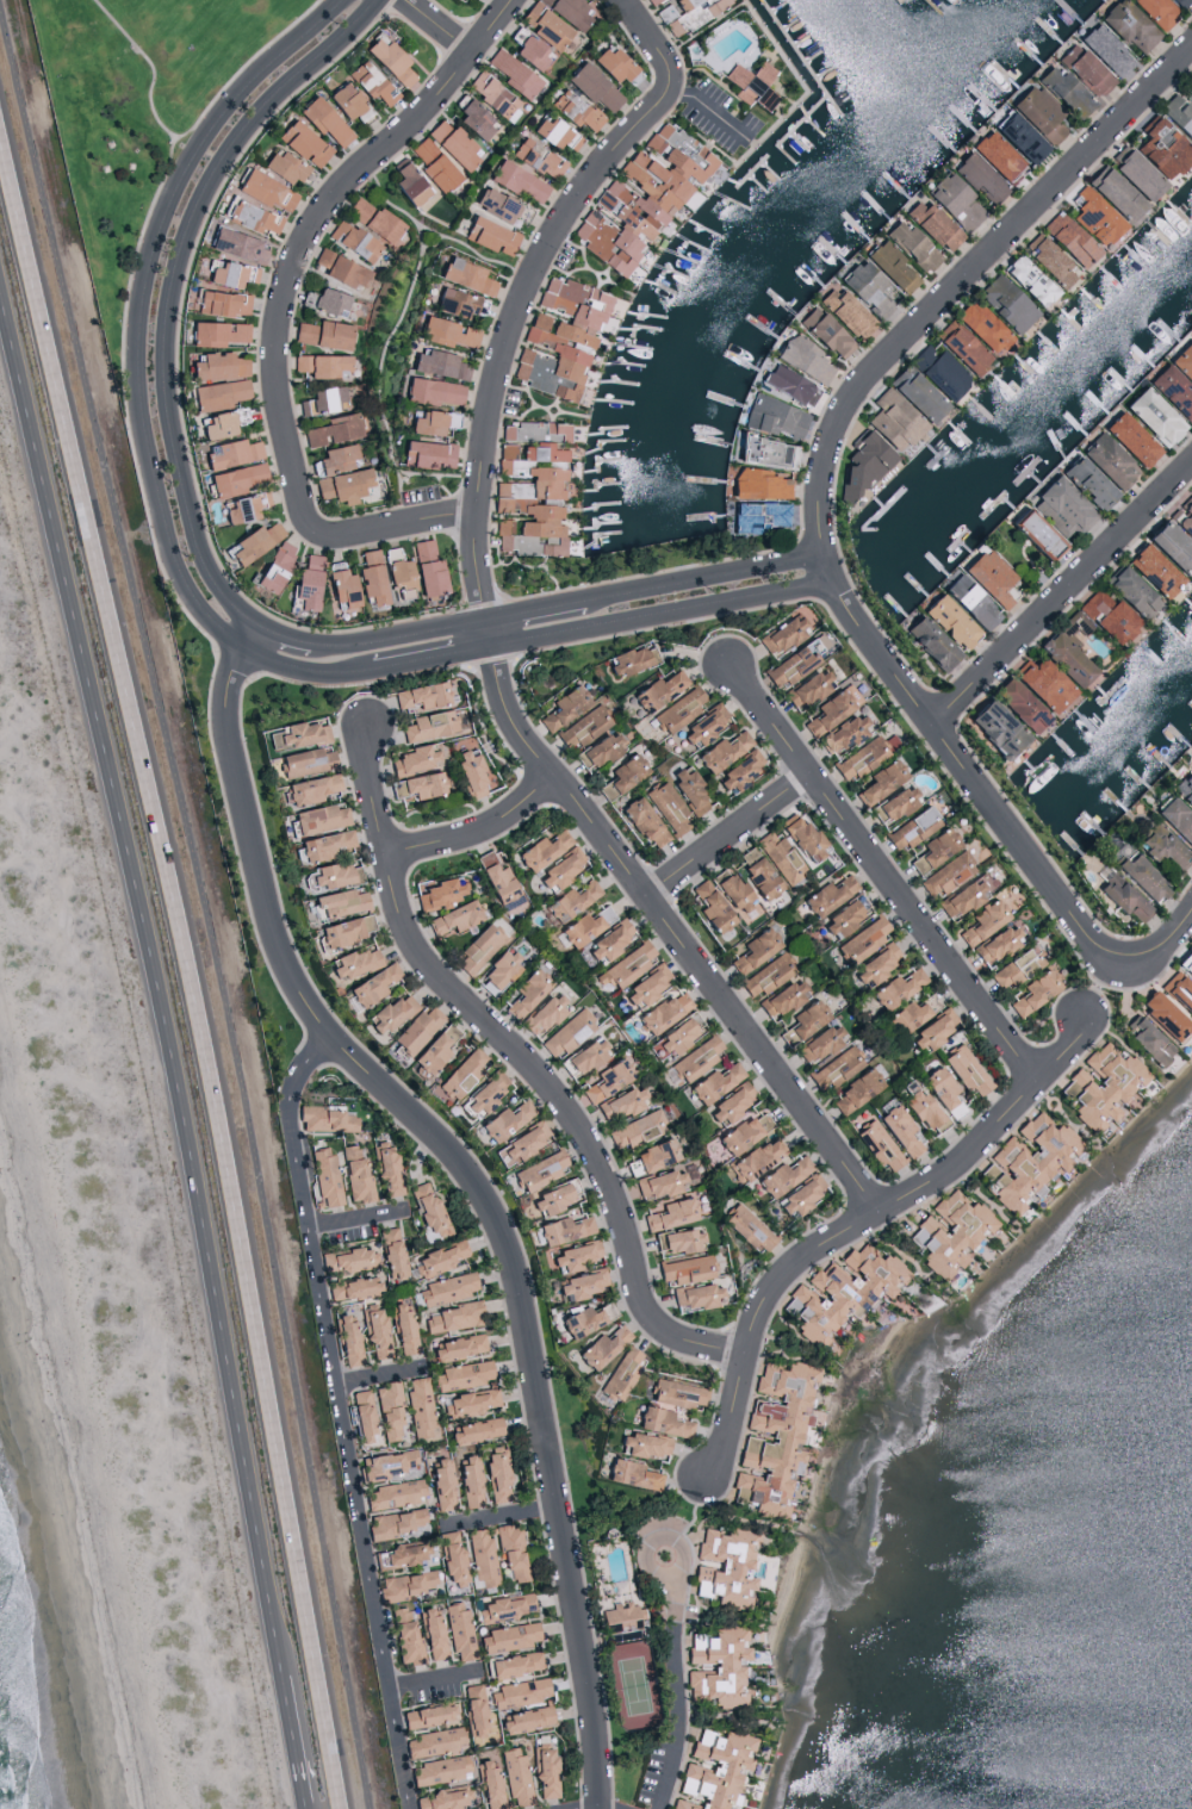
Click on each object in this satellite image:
building: (650, 1)
building: (1179, 2)
building: (566, 11)
building: (1156, 11)
building: (685, 13)
building: (544, 24)
road: (439, 25)
building: (1126, 25)
building: (1104, 49)
building: (530, 51)
building: (389, 60)
building: (614, 64)
building: (1082, 68)
building: (510, 72)
road: (151, 77)
building: (370, 82)
building: (750, 82)
building: (1188, 83)
building: (591, 85)
building: (1063, 89)
building: (492, 97)
building: (346, 101)
park: (136, 108)
building: (573, 110)
road: (709, 111)
building: (1037, 112)
building: (1178, 114)
building: (473, 117)
building: (322, 120)
building: (554, 133)
building: (1017, 137)
building: (302, 142)
building: (452, 142)
building: (1161, 147)
building: (994, 155)
building: (536, 157)
building: (433, 164)
building: (280, 166)
building: (1134, 170)
building: (977, 178)
building: (517, 180)
building: (406, 184)
building: (262, 189)
building: (1113, 192)
building: (640, 194)
building: (952, 200)
building: (250, 216)
building: (1093, 216)
building: (372, 219)
building: (930, 223)
building: (489, 235)
building: (1067, 238)
building: (352, 241)
building: (235, 244)
building: (911, 244)
building: (1048, 260)
building: (889, 265)
building: (339, 268)
building: (228, 273)
building: (465, 275)
building: (1025, 279)
road: (533, 284)
building: (862, 284)
building: (222, 301)
building: (329, 301)
building: (457, 301)
building: (1004, 303)
road: (284, 307)
building: (843, 311)
building: (980, 325)
building: (446, 331)
building: (824, 331)
building: (216, 332)
building: (322, 334)
building: (558, 337)
building: (960, 346)
building: (802, 360)
building: (1182, 361)
building: (439, 363)
building: (216, 365)
building: (319, 365)
building: (938, 369)
building: (787, 384)
building: (432, 391)
building: (1172, 391)
building: (218, 393)
building: (914, 393)
building: (322, 398)
building: (1151, 415)
building: (771, 416)
building: (890, 419)
building: (430, 421)
building: (216, 423)
building: (330, 430)
building: (1129, 439)
building: (763, 450)
building: (231, 452)
building: (427, 453)
building: (331, 459)
building: (1106, 460)
building: (861, 465)
building: (236, 478)
building: (1086, 481)
building: (757, 483)
building: (341, 484)
building: (529, 489)
road: (821, 489)
building: (1190, 489)
building: (242, 505)
building: (1060, 506)
building: (756, 515)
building: (1185, 518)
building: (1035, 533)
building: (254, 540)
building: (1169, 547)
building: (273, 565)
building: (426, 568)
building: (1151, 570)
road: (206, 573)
building: (397, 574)
building: (368, 576)
building: (988, 576)
building: (305, 582)
building: (340, 588)
building: (1129, 591)
road: (1063, 592)
road: (192, 596)
building: (968, 601)
building: (1106, 615)
building: (948, 621)
building: (780, 633)
building: (929, 641)
building: (1067, 649)
building: (631, 659)
building: (791, 664)
building: (1041, 683)
building: (806, 688)
building: (658, 689)
building: (420, 695)
building: (1017, 704)
building: (561, 707)
building: (831, 708)
building: (678, 709)
building: (428, 725)
building: (703, 725)
building: (582, 727)
building: (994, 728)
building: (303, 733)
building: (842, 733)
building: (597, 748)
building: (721, 750)
building: (863, 756)
building: (411, 759)
building: (305, 760)
building: (1190, 764)
building: (739, 769)
building: (468, 772)
building: (621, 775)
building: (879, 782)
building: (417, 784)
building: (309, 788)
building: (1184, 788)
building: (688, 790)
building: (893, 803)
building: (666, 807)
building: (317, 818)
building: (1174, 820)
building: (641, 821)
building: (909, 828)
road: (479, 832)
building: (800, 835)
road: (733, 838)
building: (324, 845)
building: (1159, 845)
building: (933, 848)
building: (541, 850)
building: (780, 858)
building: (560, 868)
building: (756, 872)
building: (946, 874)
building: (333, 875)
road: (886, 877)
building: (1140, 877)
building: (501, 884)
building: (437, 893)
building: (964, 894)
building: (734, 895)
building: (827, 895)
building: (1120, 896)
building: (570, 900)
building: (337, 902)
road: (204, 904)
building: (709, 907)
building: (452, 918)
building: (842, 918)
building: (982, 921)
road: (668, 924)
building: (584, 925)
building: (343, 930)
building: (862, 940)
building: (608, 941)
road: (1168, 941)
building: (995, 945)
building: (476, 949)
building: (755, 949)
building: (1185, 962)
building: (352, 963)
road: (187, 964)
building: (625, 966)
building: (874, 966)
building: (1016, 966)
building: (497, 970)
building: (766, 975)
building: (371, 984)
building: (646, 984)
building: (896, 988)
building: (1033, 990)
building: (1178, 990)
building: (524, 991)
road: (150, 993)
building: (781, 997)
building: (663, 1011)
building: (389, 1012)
building: (541, 1014)
building: (909, 1014)
building: (1162, 1014)
building: (802, 1020)
building: (415, 1028)
building: (566, 1033)
building: (673, 1036)
building: (1147, 1040)
building: (819, 1043)
building: (432, 1050)
building: (584, 1055)
building: (696, 1058)
road: (523, 1061)
building: (836, 1067)
building: (964, 1069)
building: (457, 1076)
building: (669, 1076)
building: (604, 1080)
building: (713, 1082)
building: (1103, 1084)
building: (853, 1092)
building: (483, 1094)
building: (619, 1104)
building: (730, 1104)
building: (923, 1111)
building: (325, 1119)
building: (503, 1120)
building: (634, 1129)
building: (898, 1129)
building: (741, 1132)
building: (520, 1144)
building: (876, 1144)
building: (653, 1155)
building: (1029, 1158)
building: (755, 1160)
building: (385, 1169)
building: (539, 1170)
building: (354, 1175)
building: (323, 1176)
building: (781, 1176)
road: (471, 1183)
building: (657, 1183)
building: (801, 1195)
building: (547, 1198)
building: (427, 1208)
building: (669, 1213)
road: (361, 1226)
building: (746, 1227)
building: (561, 1229)
road: (859, 1230)
building: (949, 1232)
building: (677, 1241)
building: (570, 1256)
building: (439, 1257)
building: (348, 1260)
building: (684, 1269)
building: (578, 1285)
building: (350, 1287)
building: (446, 1288)
building: (843, 1291)
building: (695, 1295)
building: (604, 1310)
building: (452, 1317)
building: (581, 1320)
building: (402, 1328)
building: (374, 1331)
building: (347, 1339)
building: (457, 1347)
building: (600, 1348)
building: (621, 1373)
building: (460, 1375)
road: (384, 1385)
building: (675, 1393)
building: (471, 1401)
building: (418, 1406)
building: (387, 1411)
building: (361, 1415)
road: (341, 1418)
building: (660, 1422)
building: (473, 1430)
building: (772, 1437)
building: (641, 1446)
building: (383, 1465)
building: (496, 1474)
building: (629, 1474)
building: (466, 1481)
building: (441, 1484)
building: (395, 1494)
building: (393, 1523)
road: (498, 1525)
building: (511, 1553)
building: (402, 1554)
building: (480, 1556)
building: (452, 1559)
building: (725, 1565)
building: (406, 1584)
building: (505, 1608)
building: (619, 1616)
building: (458, 1630)
building: (430, 1634)
building: (404, 1637)
building: (507, 1637)
building: (513, 1664)
building: (716, 1667)
road: (433, 1690)
road: (677, 1690)
building: (516, 1695)
building: (473, 1709)
building: (426, 1716)
building: (523, 1718)
road: (292, 1742)
building: (433, 1742)
building: (712, 1768)
building: (437, 1770)
building: (544, 1772)
building: (515, 1777)
building: (488, 1784)
building: (442, 1799)

